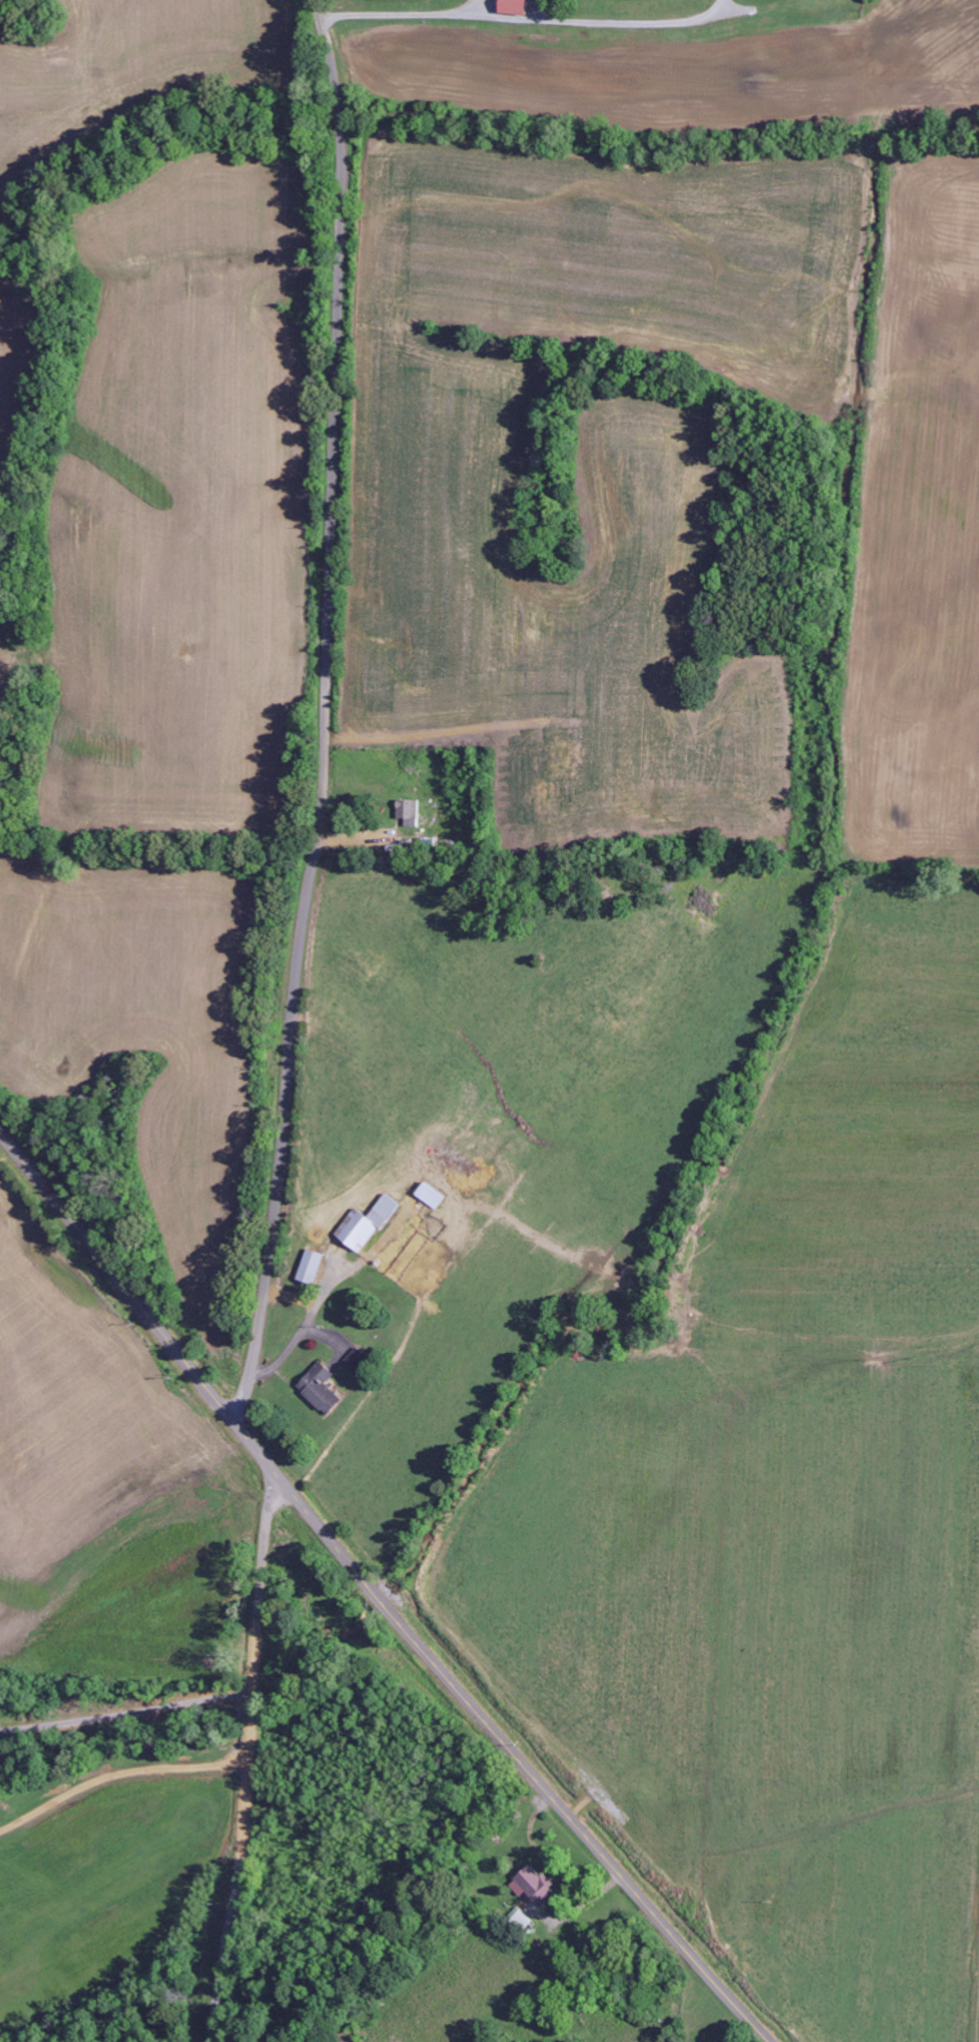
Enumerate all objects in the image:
building: (511, 7)
road: (321, 712)
building: (406, 812)
building: (364, 1225)
building: (309, 1267)
building: (356, 1360)
building: (318, 1388)
road: (374, 1596)
road: (250, 1759)
road: (118, 1775)
airport runway: (97, 1880)
building: (531, 1886)
building: (519, 1918)

